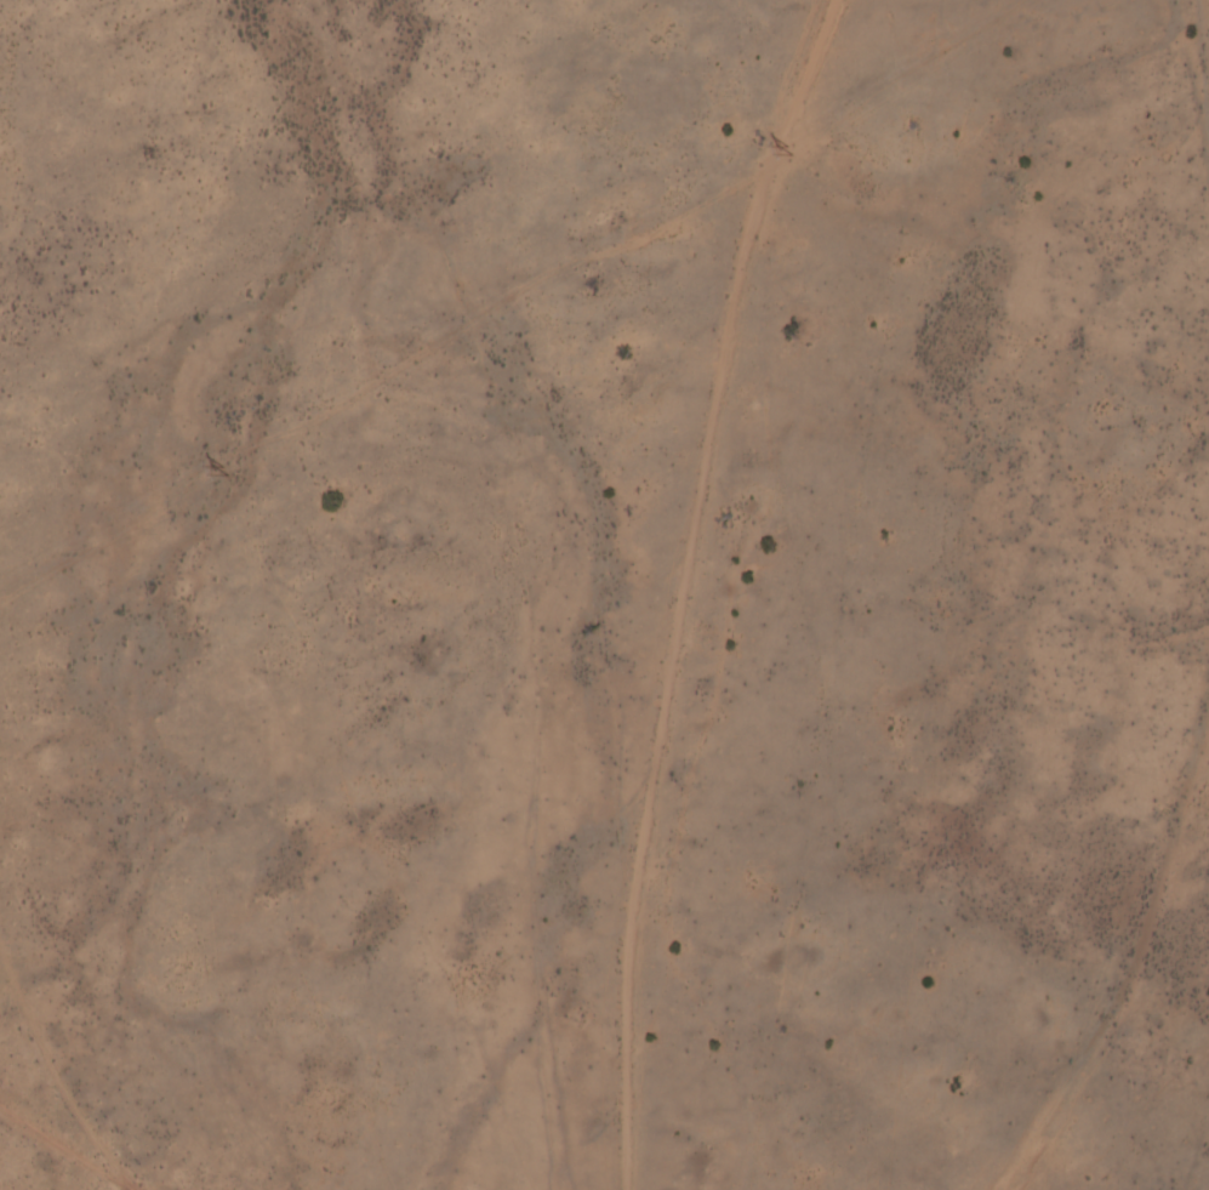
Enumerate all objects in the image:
road: (1124, 987)

